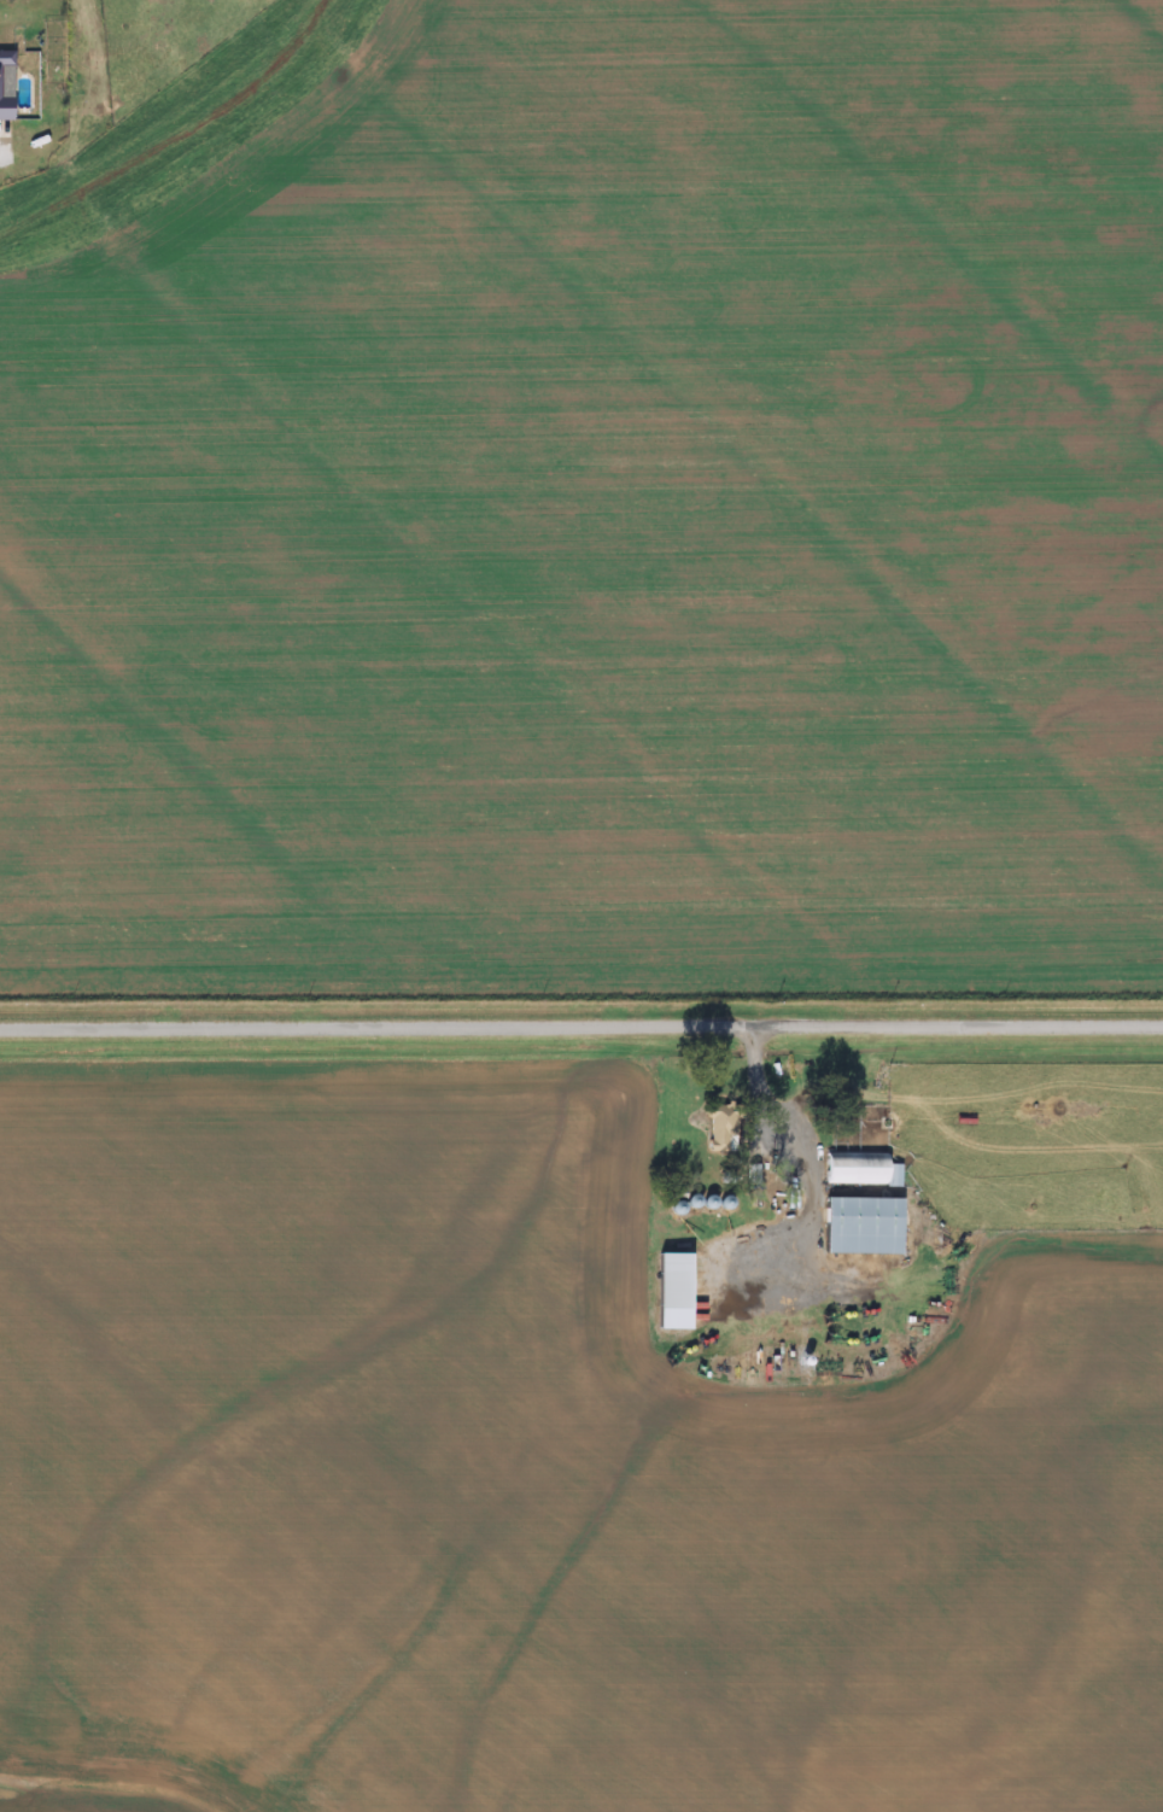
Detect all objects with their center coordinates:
building: (4, 97)
road: (581, 1031)
building: (861, 1170)
building: (864, 1227)
building: (674, 1293)

